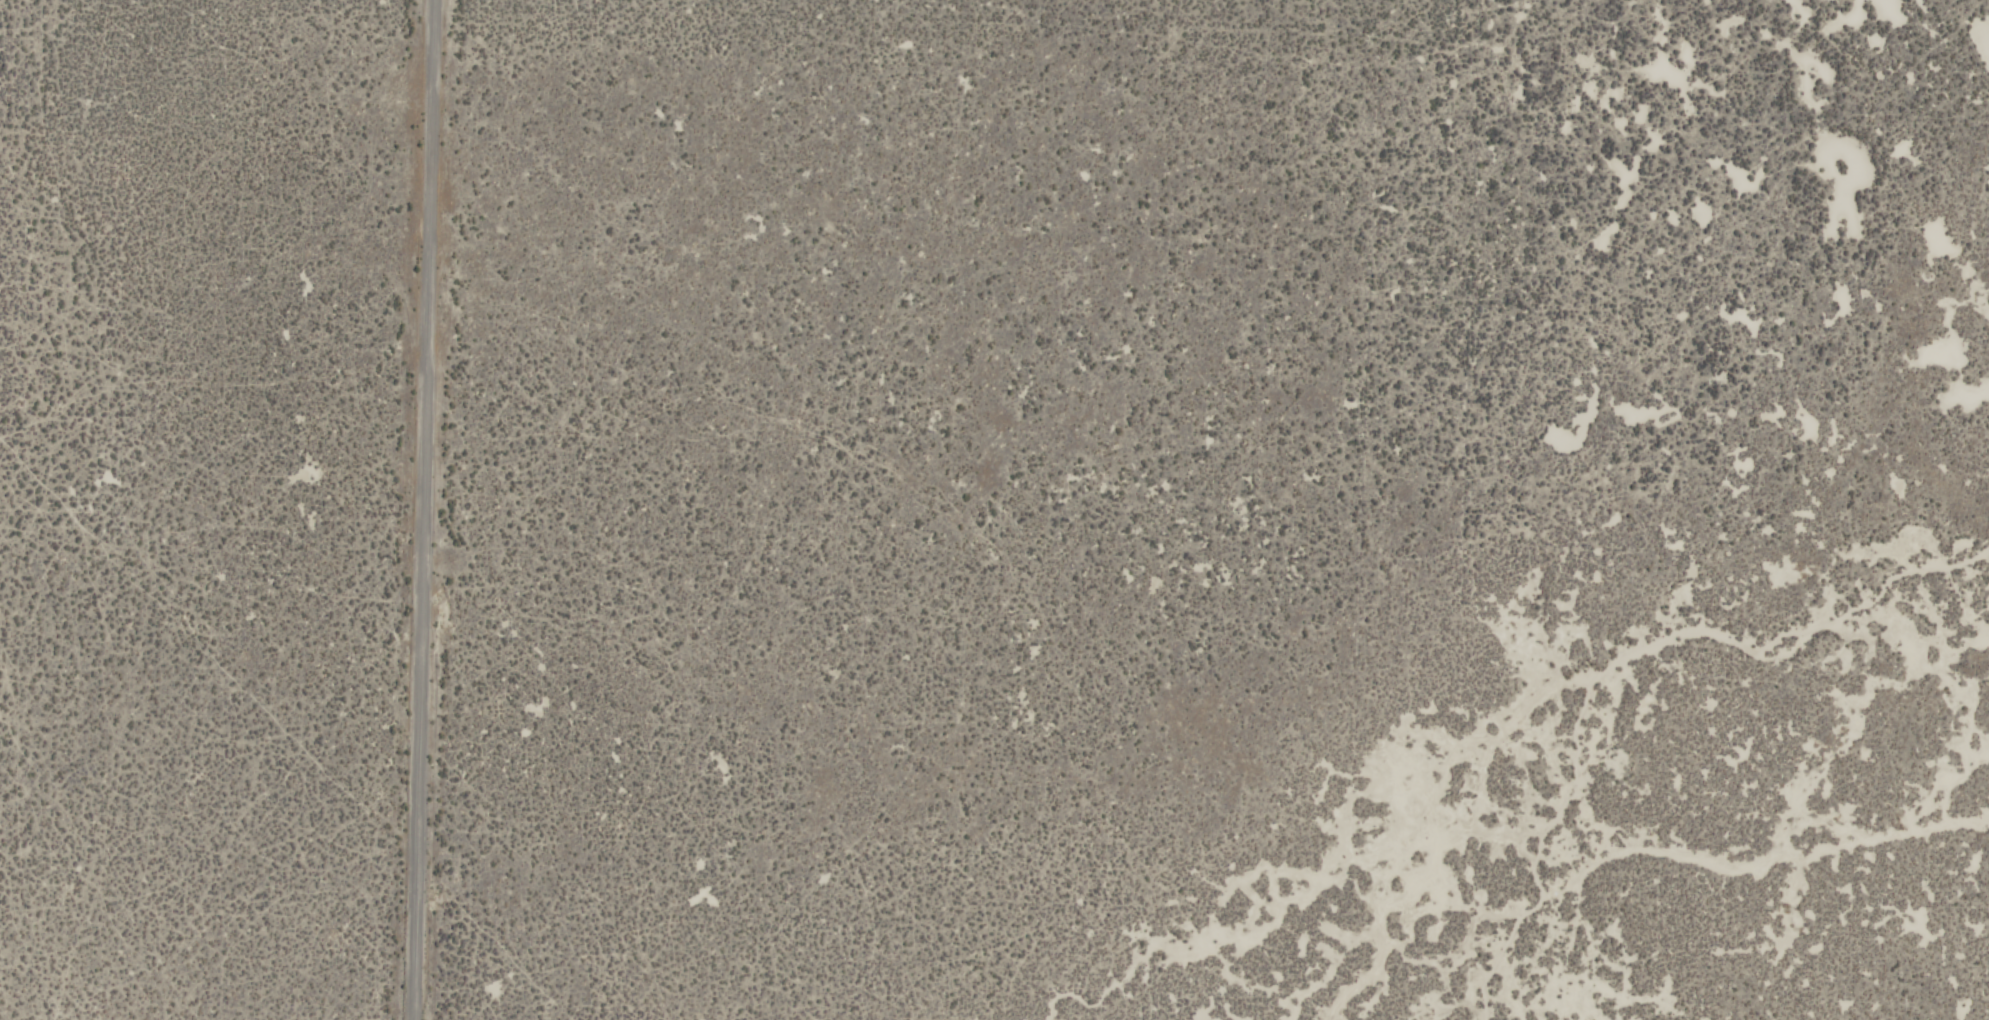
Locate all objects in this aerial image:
road: (430, 510)
airport: (994, 510)

